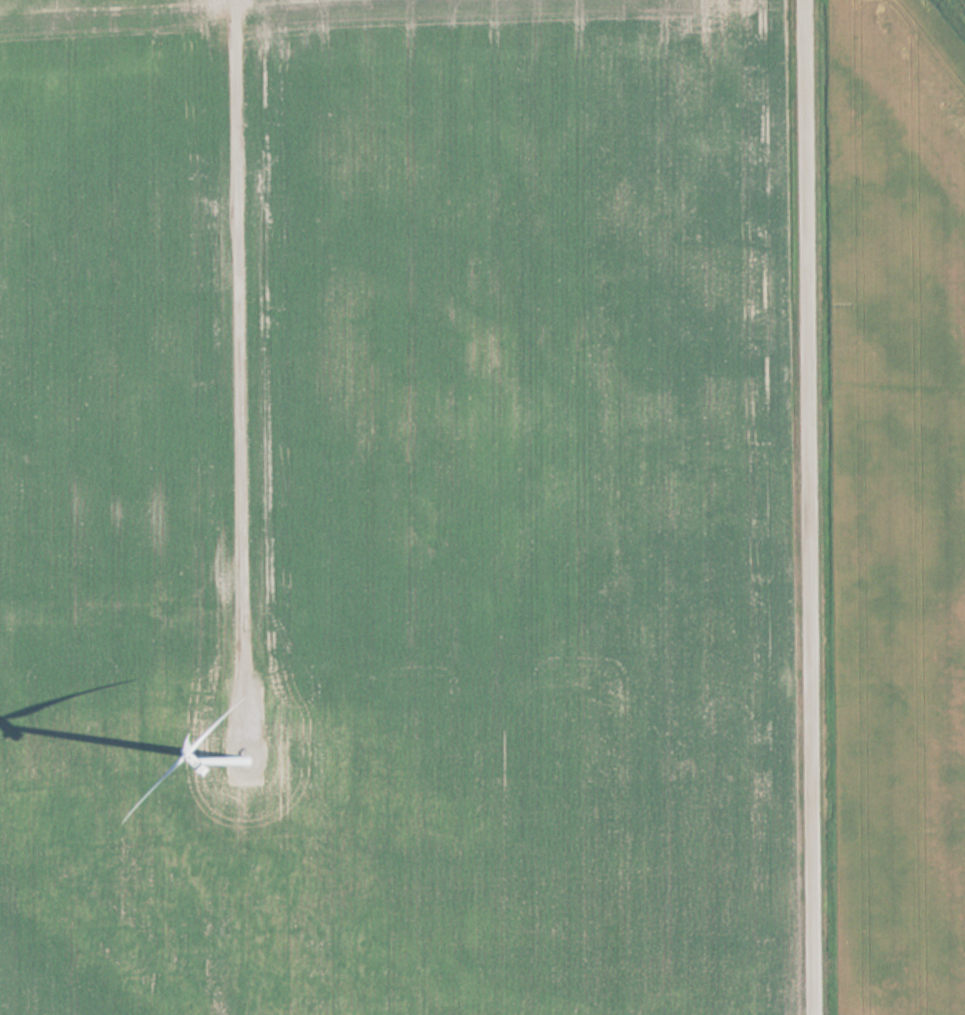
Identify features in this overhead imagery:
road: (244, 328)
road: (812, 507)
wind turbine: (249, 761)

